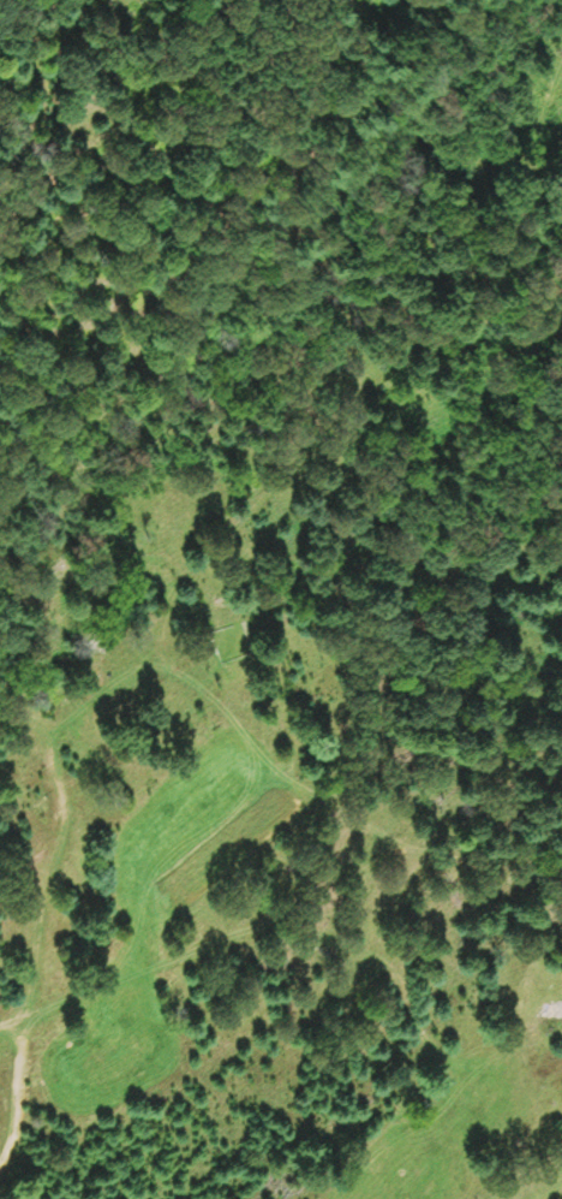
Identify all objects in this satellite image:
road: (53, 132)
road: (53, 862)

